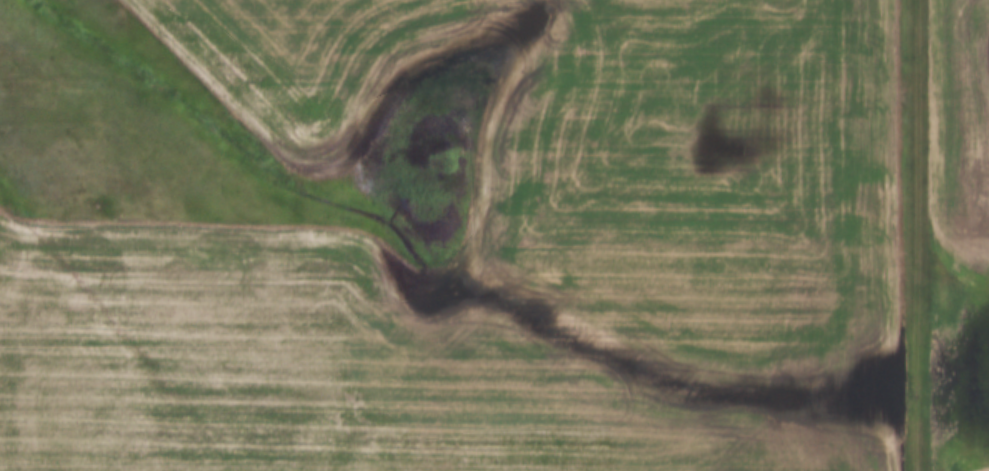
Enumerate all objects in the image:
road: (916, 235)

